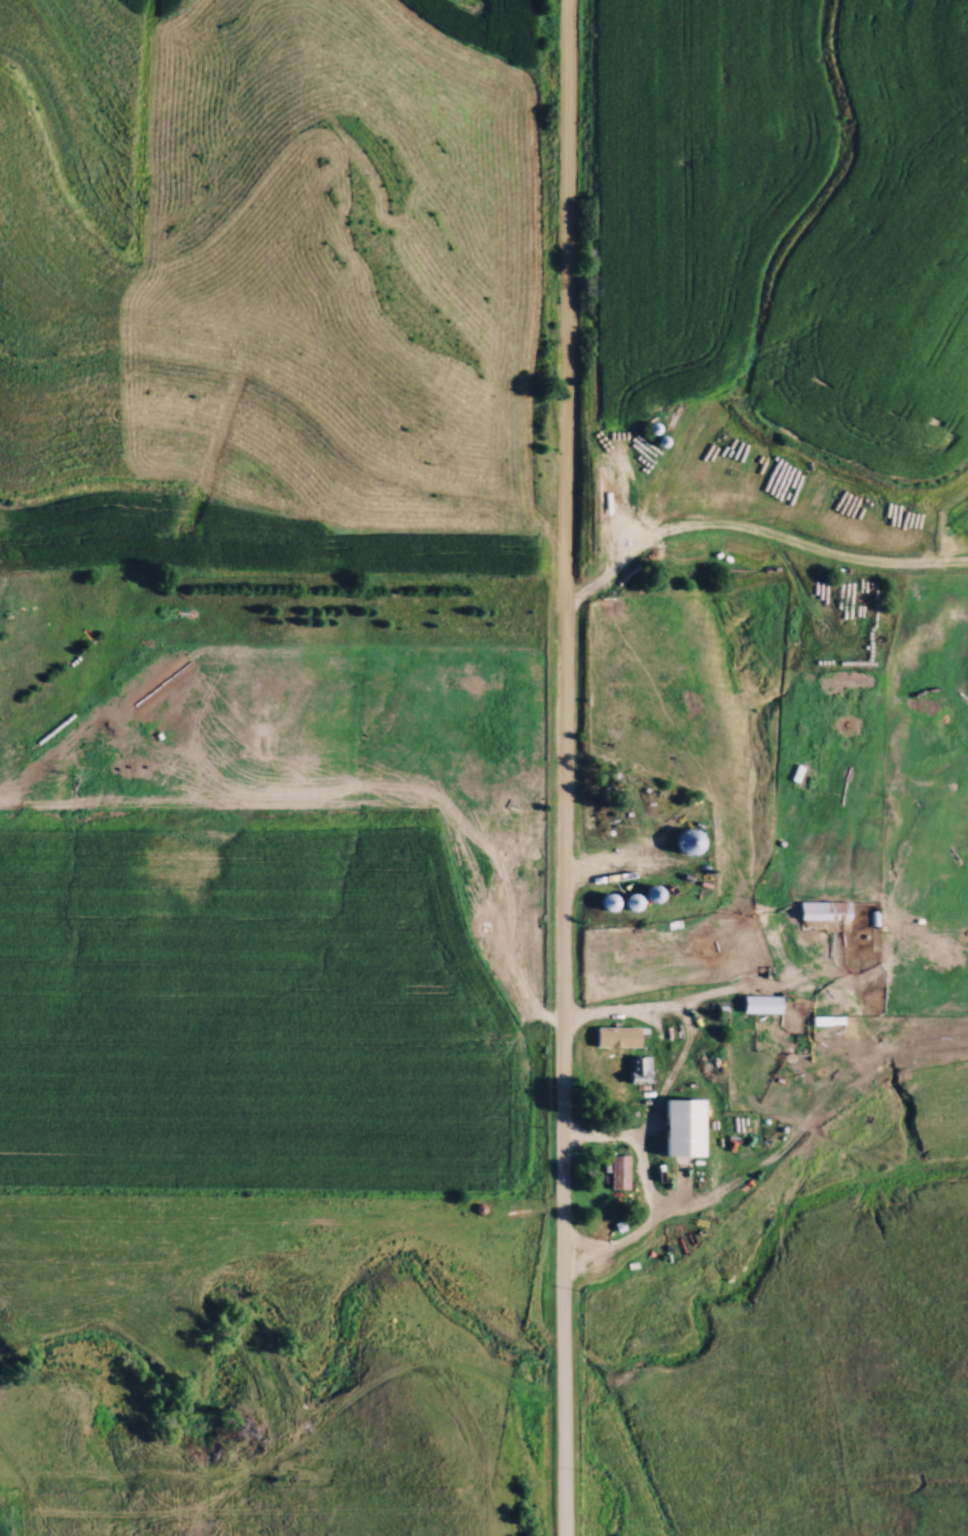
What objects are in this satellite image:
building: (661, 439)
road: (565, 768)
building: (687, 840)
building: (824, 909)
building: (761, 1002)
building: (618, 1034)
building: (640, 1067)
building: (620, 1170)
road: (644, 1189)

